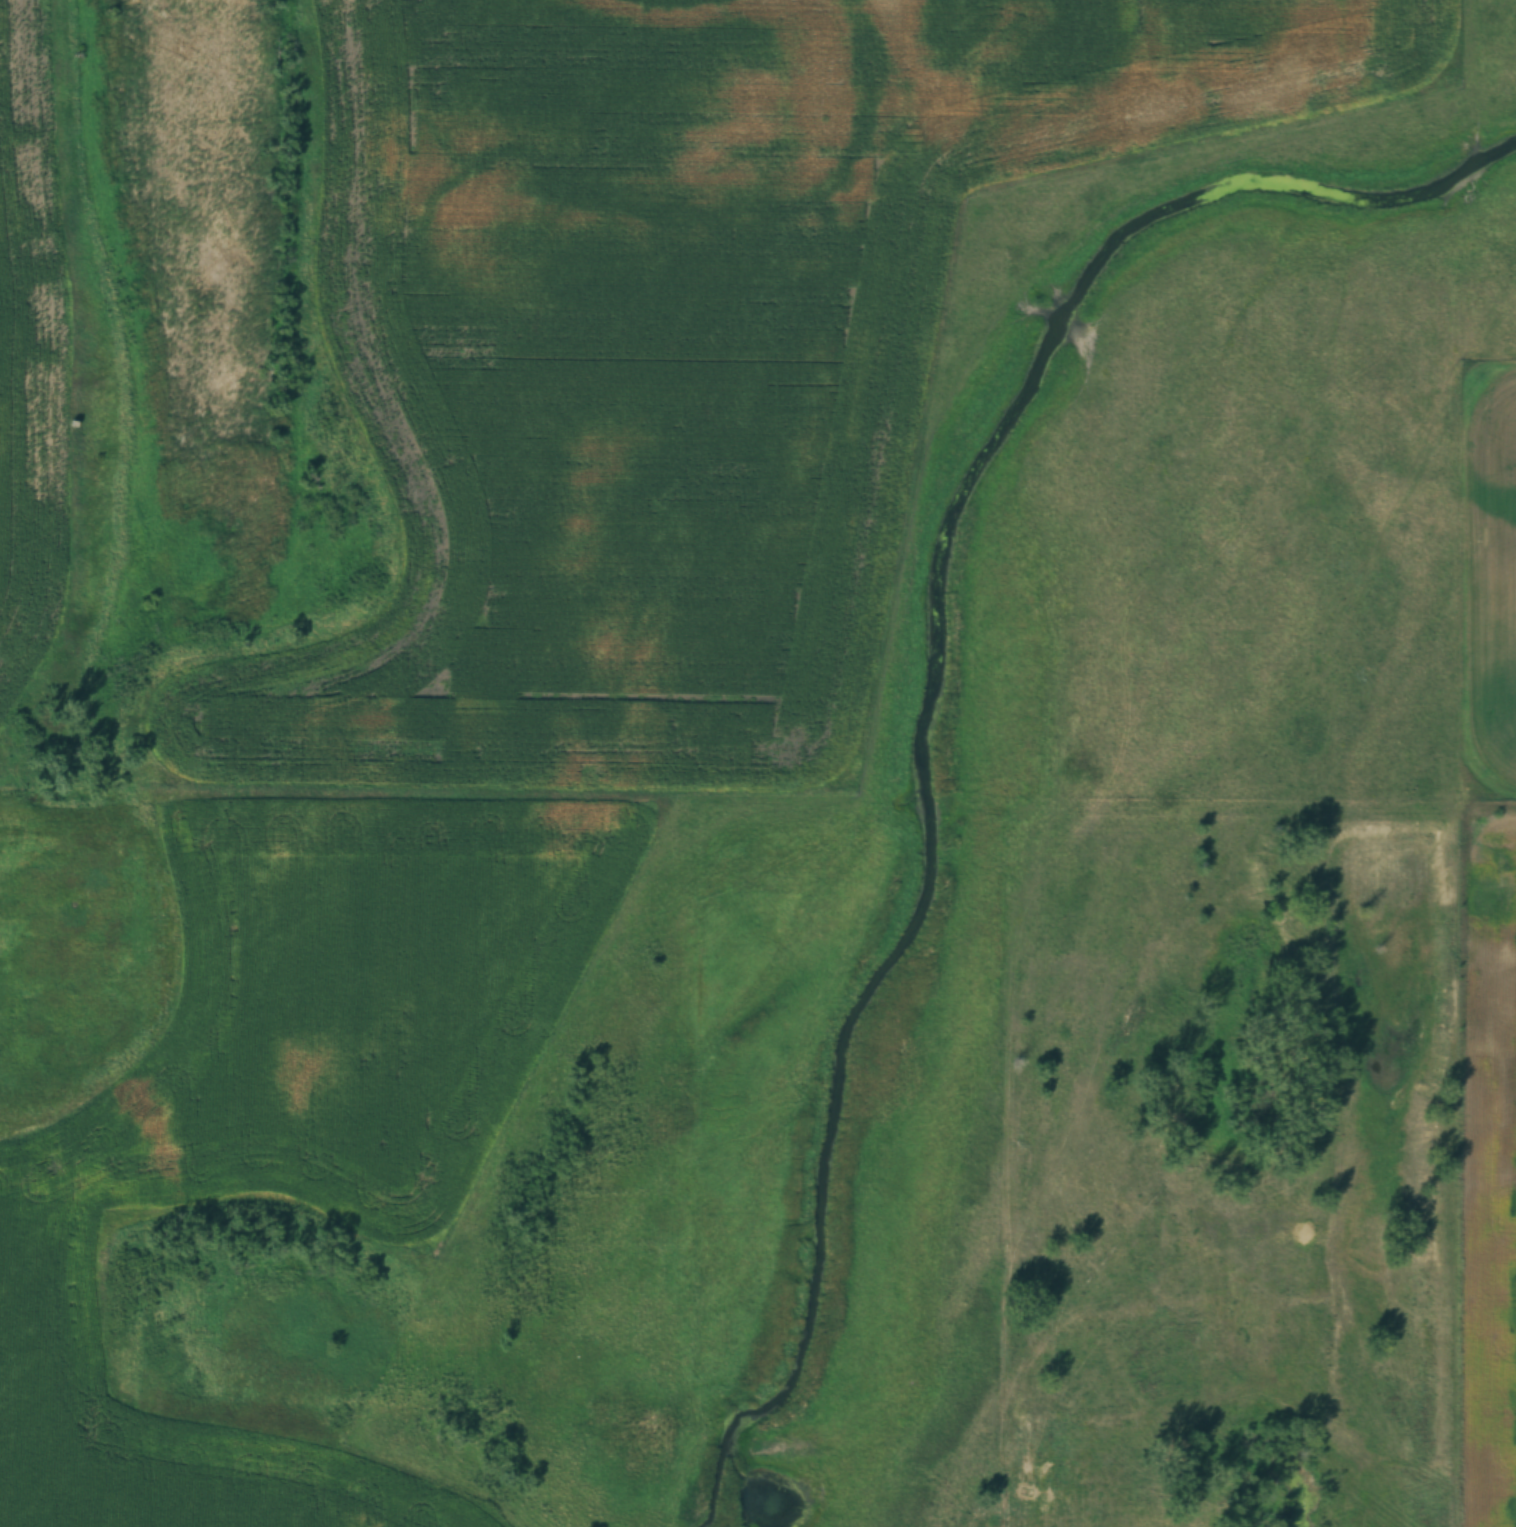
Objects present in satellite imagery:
road: (990, 1436)

